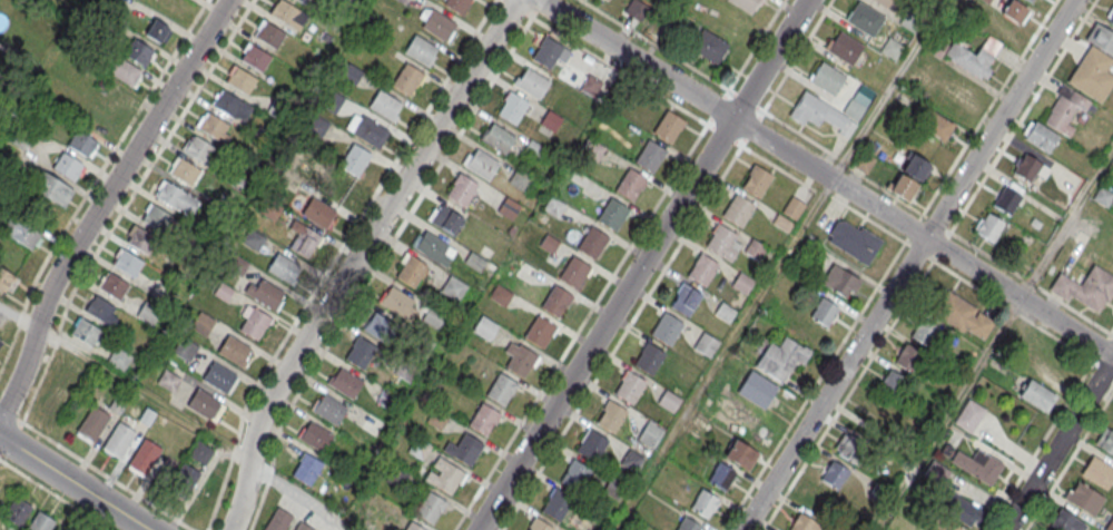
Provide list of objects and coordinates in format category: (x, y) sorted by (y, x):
building: (986, 0)
building: (302, 1)
building: (1030, 1)
building: (887, 3)
building: (8, 4)
building: (457, 4)
building: (745, 6)
building: (637, 9)
building: (1015, 11)
building: (284, 13)
road: (526, 13)
building: (865, 21)
building: (1111, 21)
building: (436, 23)
building: (157, 30)
building: (270, 36)
building: (1101, 41)
building: (709, 47)
building: (845, 50)
building: (892, 50)
building: (139, 51)
building: (421, 51)
building: (546, 51)
road: (797, 57)
building: (977, 57)
building: (256, 58)
building: (126, 70)
building: (1093, 77)
building: (407, 79)
building: (242, 81)
building: (827, 81)
building: (532, 85)
building: (591, 85)
road: (683, 89)
road: (889, 90)
building: (115, 99)
building: (227, 105)
road: (754, 105)
building: (385, 107)
building: (512, 107)
road: (989, 108)
building: (1066, 111)
building: (820, 117)
road: (469, 118)
road: (999, 119)
building: (551, 120)
building: (937, 125)
building: (213, 127)
building: (669, 128)
building: (370, 131)
building: (1040, 136)
building: (19, 139)
building: (498, 139)
building: (81, 143)
building: (199, 150)
building: (651, 158)
building: (355, 159)
road: (152, 161)
building: (67, 165)
building: (482, 166)
building: (1030, 167)
building: (186, 173)
building: (908, 176)
building: (520, 179)
road: (93, 180)
building: (757, 180)
building: (50, 187)
building: (631, 187)
building: (461, 190)
road: (819, 192)
building: (171, 196)
building: (1104, 196)
road: (971, 197)
building: (1007, 197)
road: (102, 204)
building: (554, 206)
building: (509, 208)
building: (738, 209)
building: (318, 213)
building: (789, 213)
building: (613, 216)
building: (445, 218)
building: (157, 219)
road: (1066, 225)
building: (988, 226)
road: (375, 227)
building: (21, 230)
building: (304, 239)
building: (721, 239)
building: (854, 241)
building: (142, 242)
building: (593, 244)
building: (433, 246)
building: (755, 249)
road: (335, 257)
road: (641, 264)
building: (128, 265)
building: (283, 267)
road: (971, 268)
building: (410, 269)
building: (703, 269)
building: (575, 274)
building: (7, 279)
building: (839, 279)
building: (741, 283)
building: (115, 287)
building: (453, 287)
building: (1085, 287)
building: (265, 293)
building: (501, 294)
building: (686, 300)
building: (556, 302)
building: (397, 303)
building: (100, 308)
building: (825, 311)
building: (725, 312)
building: (149, 313)
building: (962, 315)
road: (19, 317)
building: (432, 317)
building: (201, 322)
building: (253, 322)
building: (485, 327)
road: (581, 327)
building: (667, 328)
building: (380, 330)
building: (86, 331)
building: (539, 331)
building: (923, 331)
building: (0, 340)
building: (706, 344)
building: (1, 345)
building: (185, 347)
building: (234, 350)
building: (359, 352)
building: (907, 356)
building: (120, 357)
building: (781, 357)
building: (519, 359)
building: (650, 359)
building: (733, 365)
building: (75, 373)
road: (42, 376)
building: (218, 376)
building: (168, 380)
building: (344, 382)
building: (892, 383)
road: (834, 384)
road: (814, 385)
building: (630, 386)
building: (501, 389)
road: (144, 394)
building: (1037, 395)
building: (669, 400)
building: (58, 401)
building: (205, 404)
building: (329, 409)
road: (948, 414)
building: (612, 415)
building: (968, 416)
building: (483, 419)
building: (91, 423)
building: (650, 433)
building: (315, 436)
road: (10, 438)
building: (118, 439)
building: (1105, 440)
road: (1058, 443)
building: (591, 444)
building: (848, 446)
building: (466, 450)
building: (200, 452)
building: (741, 454)
building: (144, 457)
building: (632, 459)
building: (977, 465)
road: (96, 469)
building: (307, 469)
building: (936, 472)
building: (1097, 472)
building: (835, 474)
building: (444, 475)
building: (575, 475)
building: (720, 475)
building: (396, 477)
building: (184, 478)
road: (73, 481)
road: (55, 494)
road: (303, 495)
road: (243, 497)
building: (1083, 498)
building: (818, 500)
building: (703, 503)
building: (558, 504)
building: (430, 507)
building: (962, 509)
building: (18, 510)
building: (277, 520)
building: (1065, 521)
building: (40, 522)
building: (804, 523)
building: (540, 524)
building: (688, 524)
building: (945, 524)
building: (1110, 524)
building: (303, 527)
building: (412, 527)

